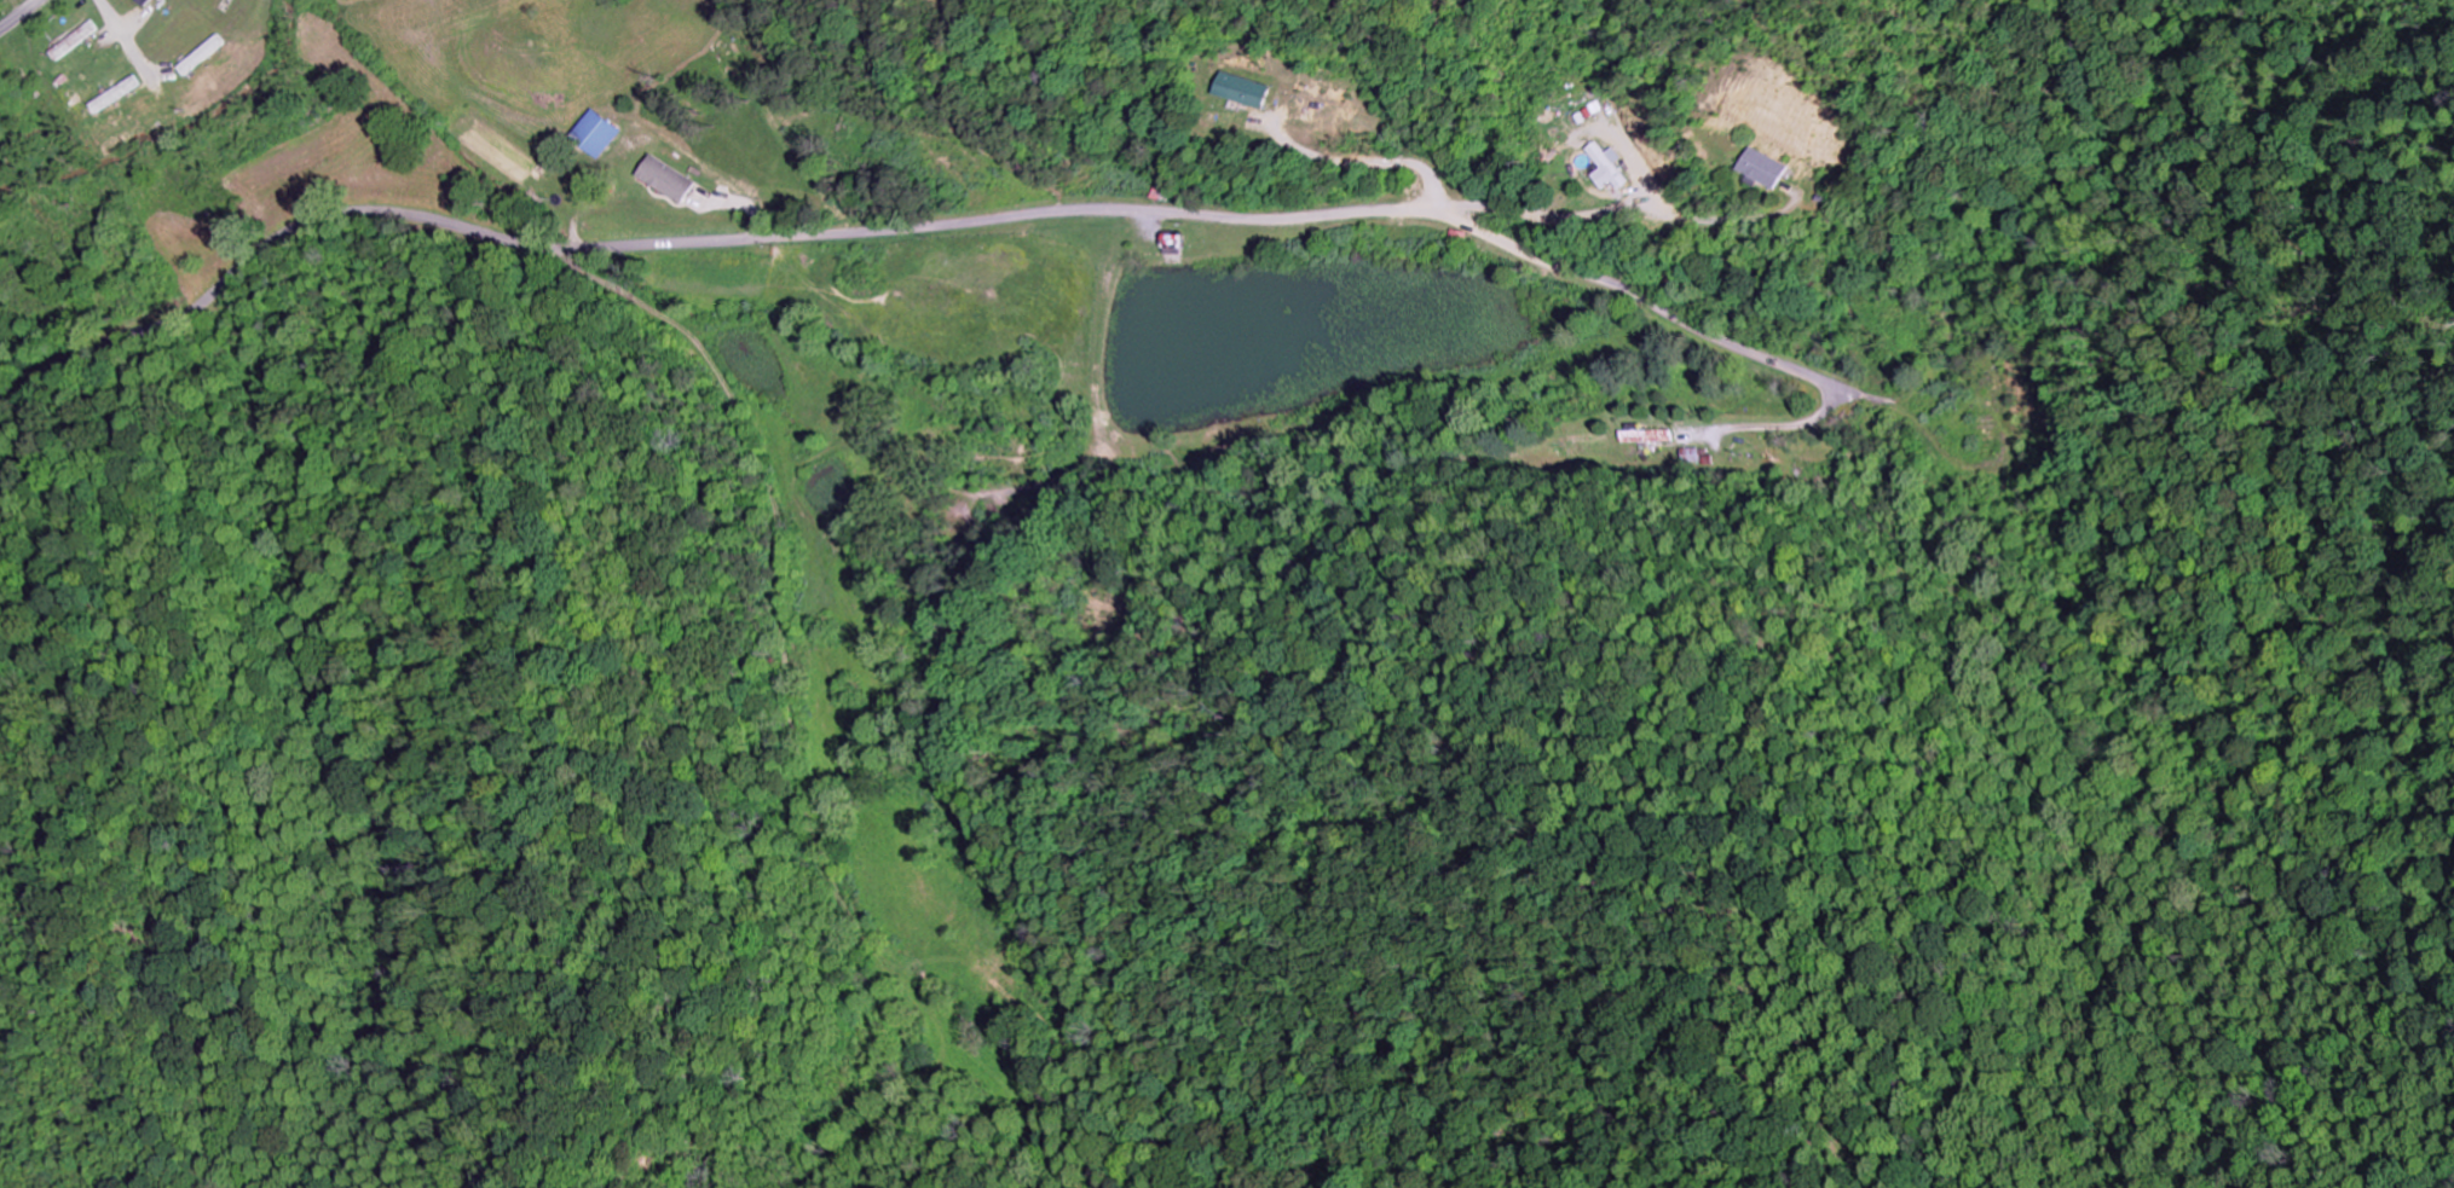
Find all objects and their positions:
building: (150, 2)
park: (4, 4)
road: (21, 16)
building: (206, 56)
building: (1249, 91)
building: (120, 94)
building: (1598, 110)
building: (601, 133)
building: (1618, 167)
building: (1774, 169)
building: (669, 179)
road: (934, 225)
building: (2204, 272)
building: (1644, 436)

